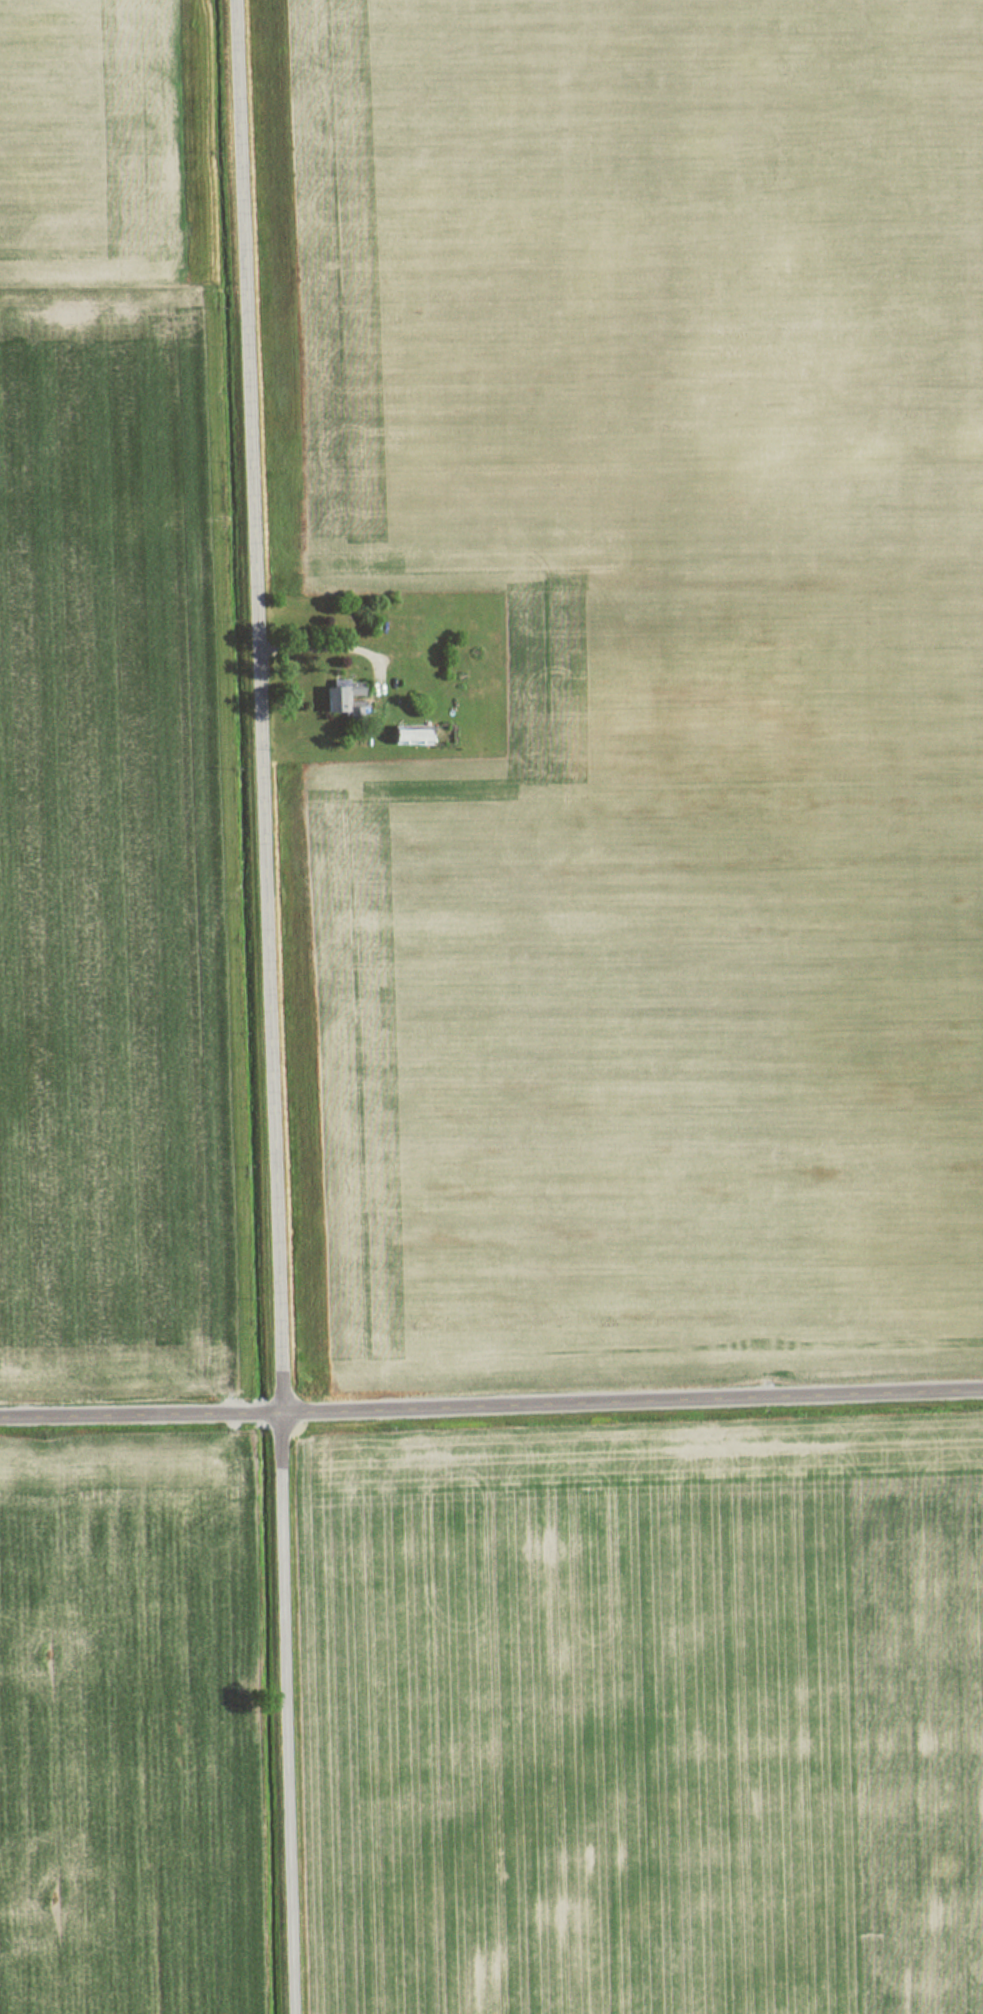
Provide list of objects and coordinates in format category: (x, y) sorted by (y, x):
crop: (656, 672)
crop: (101, 714)
road: (268, 1006)
road: (491, 1406)
crop: (654, 1721)
crop: (123, 1733)

